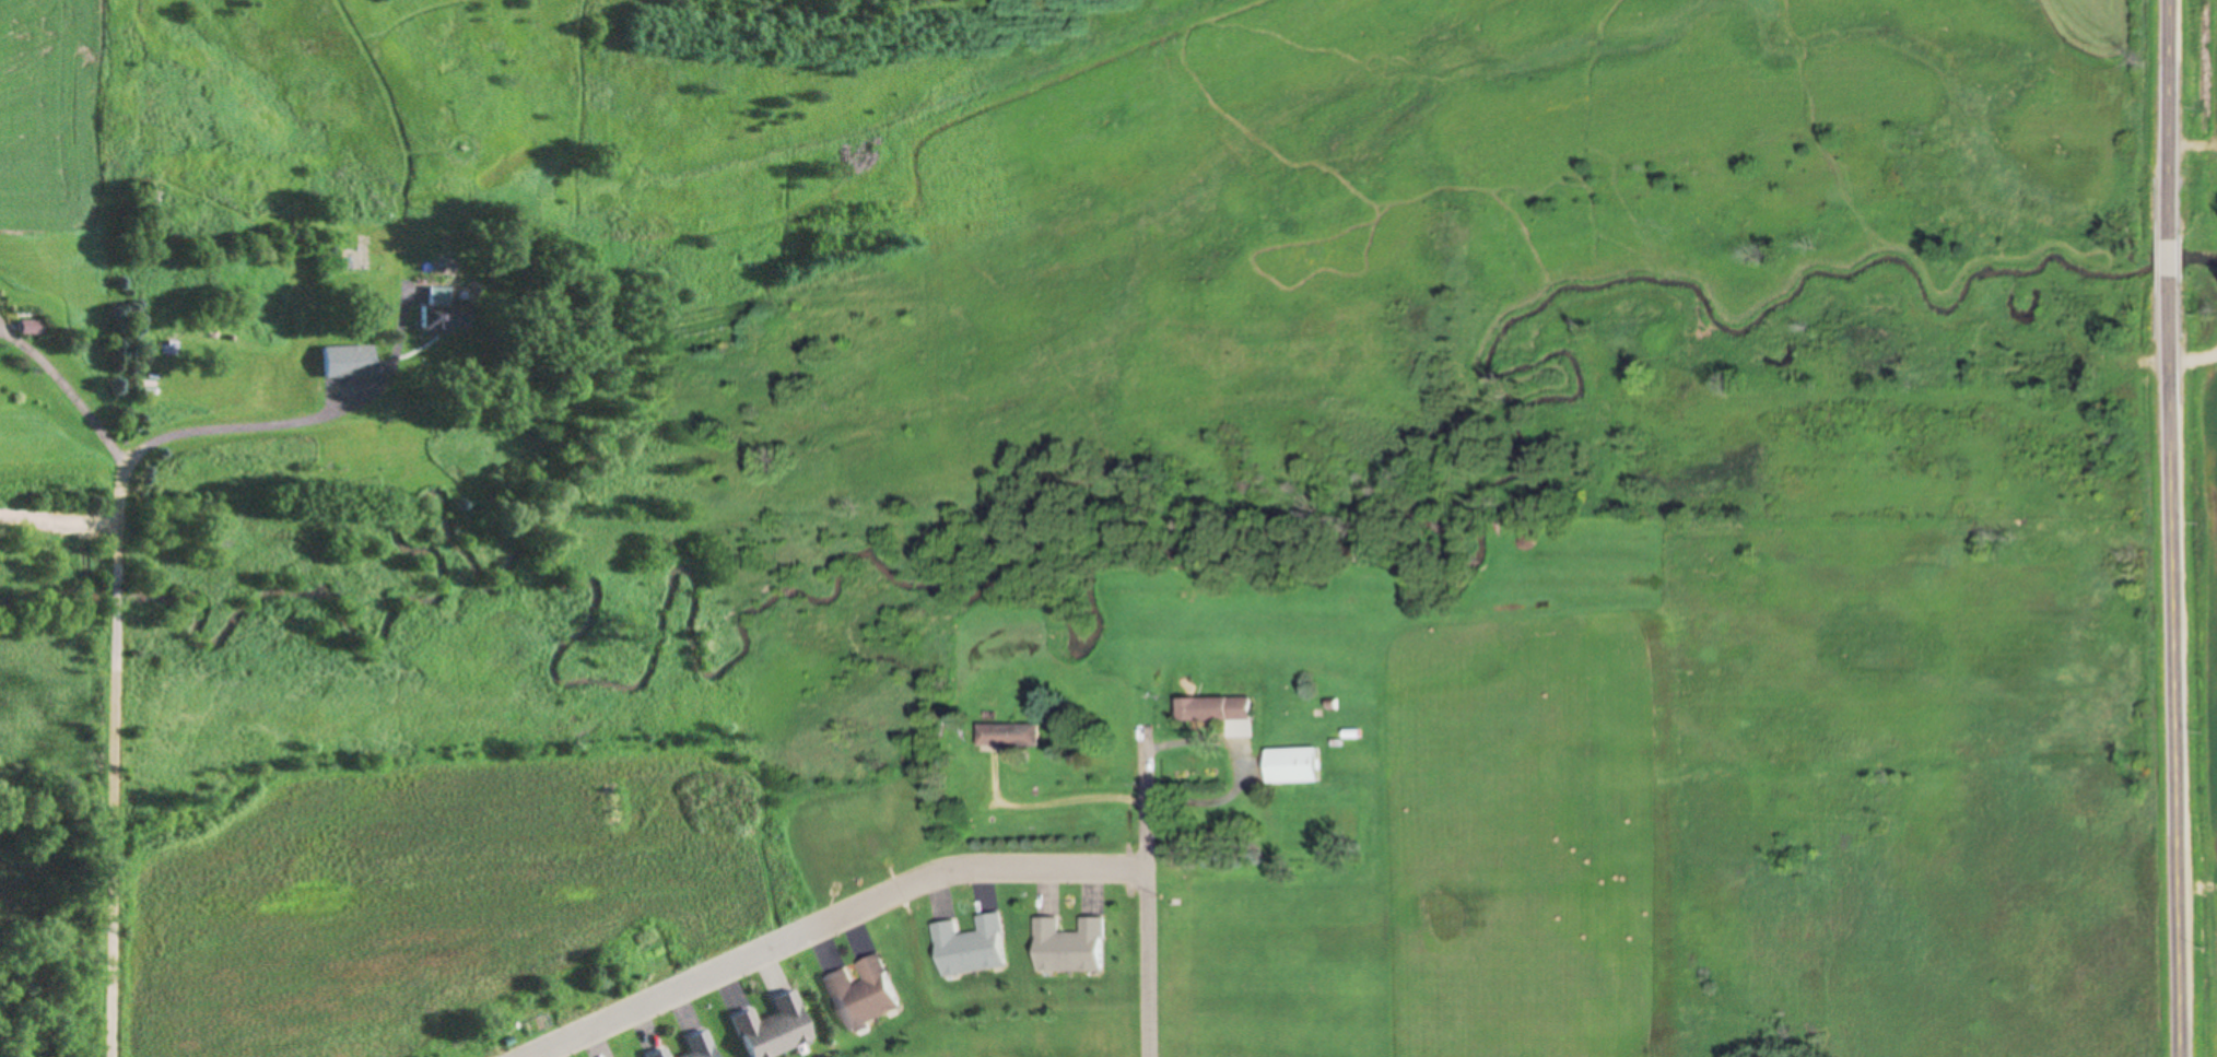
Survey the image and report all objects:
road: (2167, 119)
road: (2167, 258)
building: (450, 318)
building: (32, 328)
building: (351, 361)
road: (70, 391)
road: (330, 415)
road: (121, 506)
road: (2171, 667)
building: (1217, 707)
building: (1012, 736)
building: (1293, 765)
road: (115, 830)
road: (1147, 891)
road: (831, 923)
building: (974, 948)
building: (1075, 948)
building: (866, 995)
building: (779, 1029)
building: (703, 1043)
building: (660, 1054)

